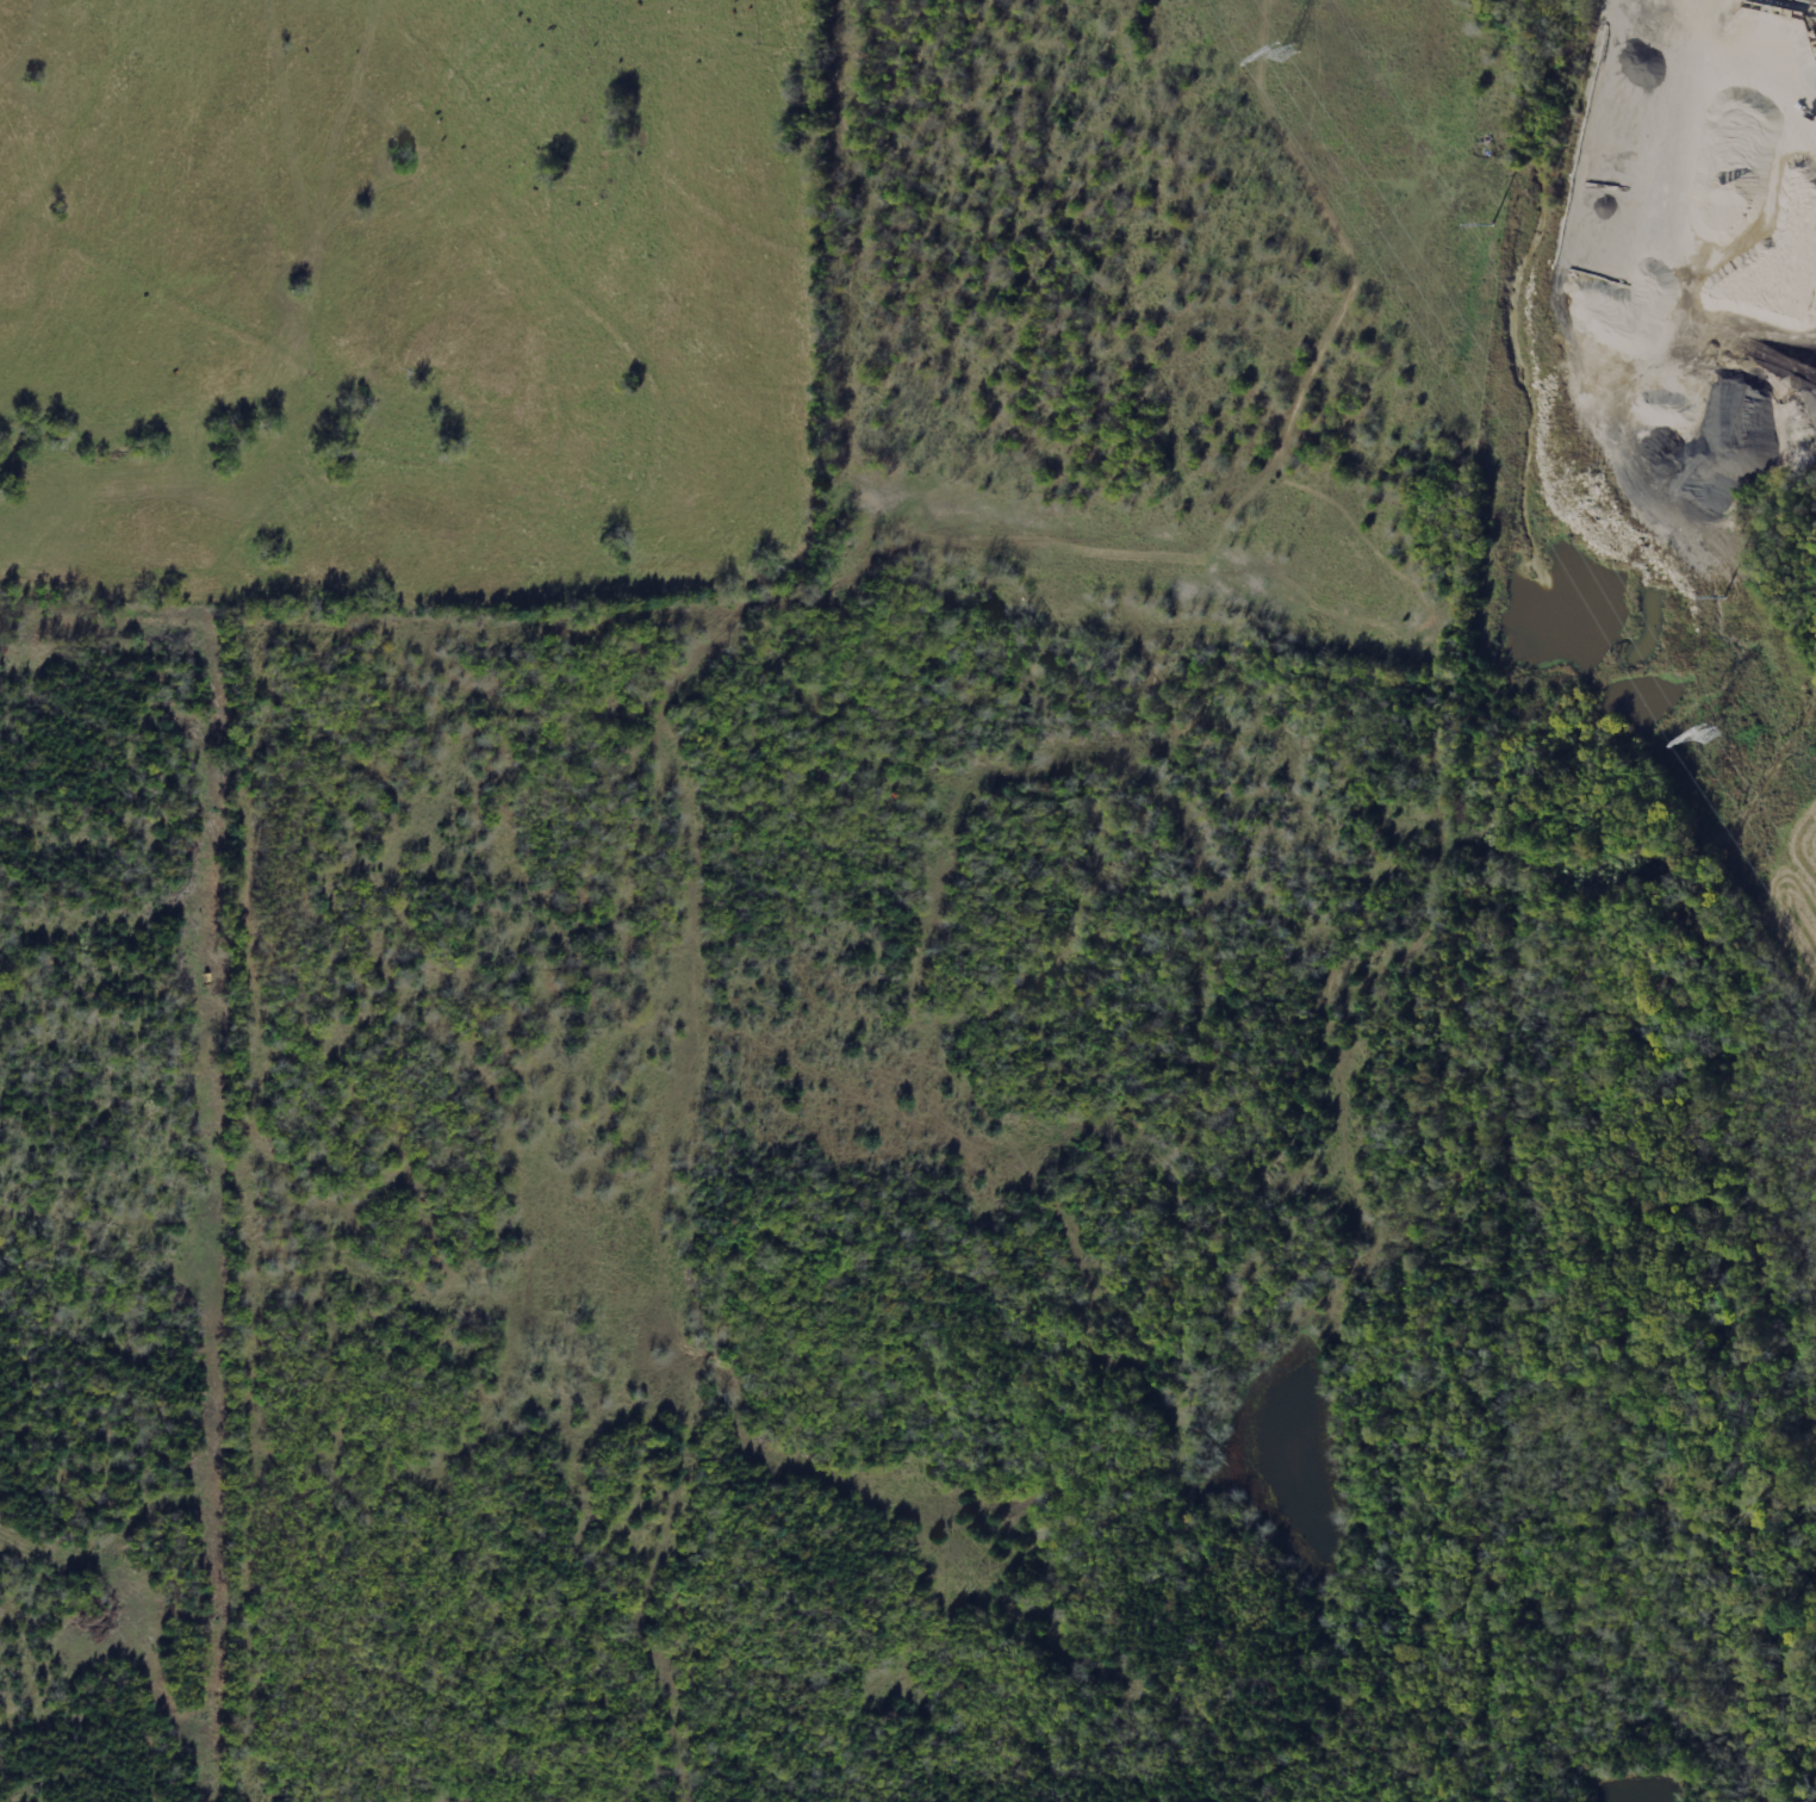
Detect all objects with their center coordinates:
power tower: (1289, 56)
power tower: (1389, 69)
power tower: (1551, 333)
power tower: (1716, 738)
railway: (1495, 897)

